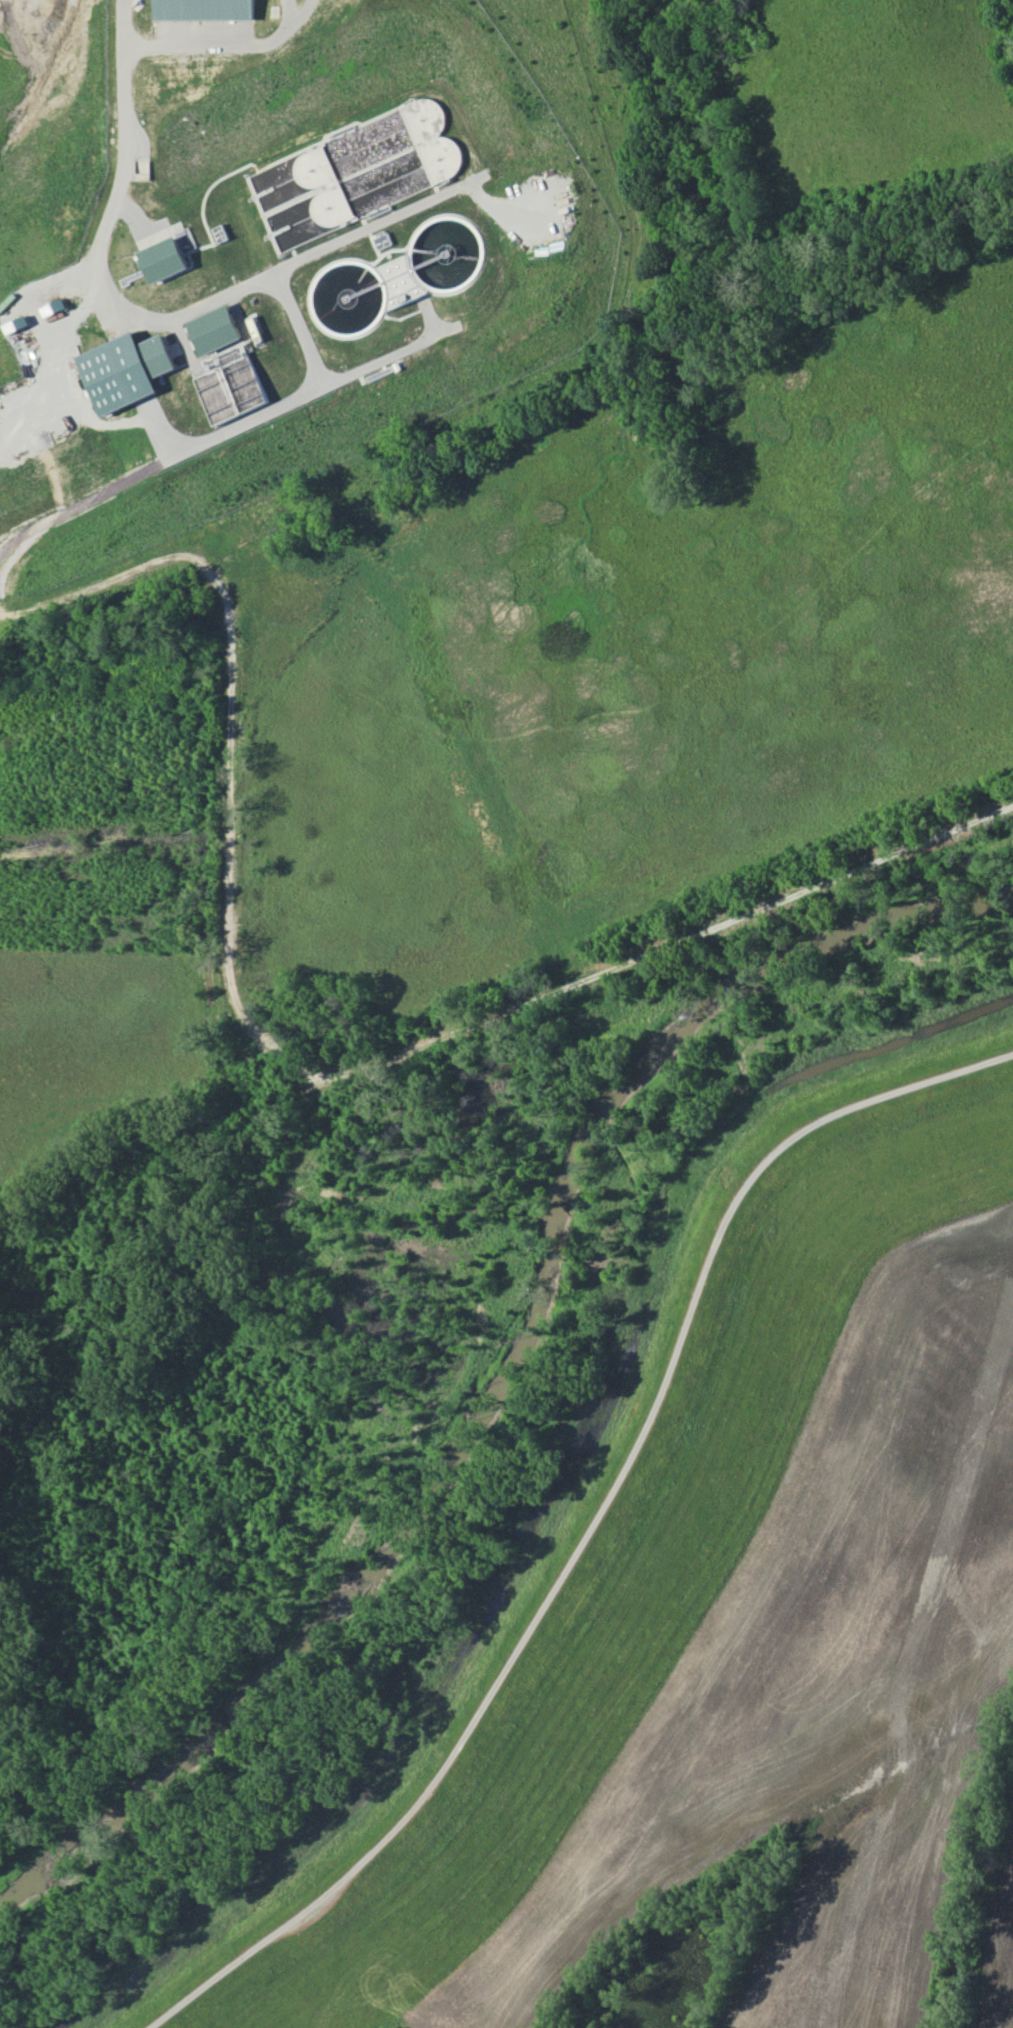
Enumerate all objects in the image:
building: (204, 10)
road: (226, 47)
road: (123, 148)
building: (346, 171)
building: (184, 240)
wastewater plant: (274, 254)
building: (163, 260)
road: (280, 268)
building: (17, 324)
building: (214, 329)
building: (126, 371)
building: (231, 383)
road: (184, 452)
road: (89, 500)
road: (227, 735)
road: (667, 942)
crop: (100, 1034)
road: (590, 1530)
crop: (778, 1640)
crop: (998, 1949)
crop: (855, 1962)

